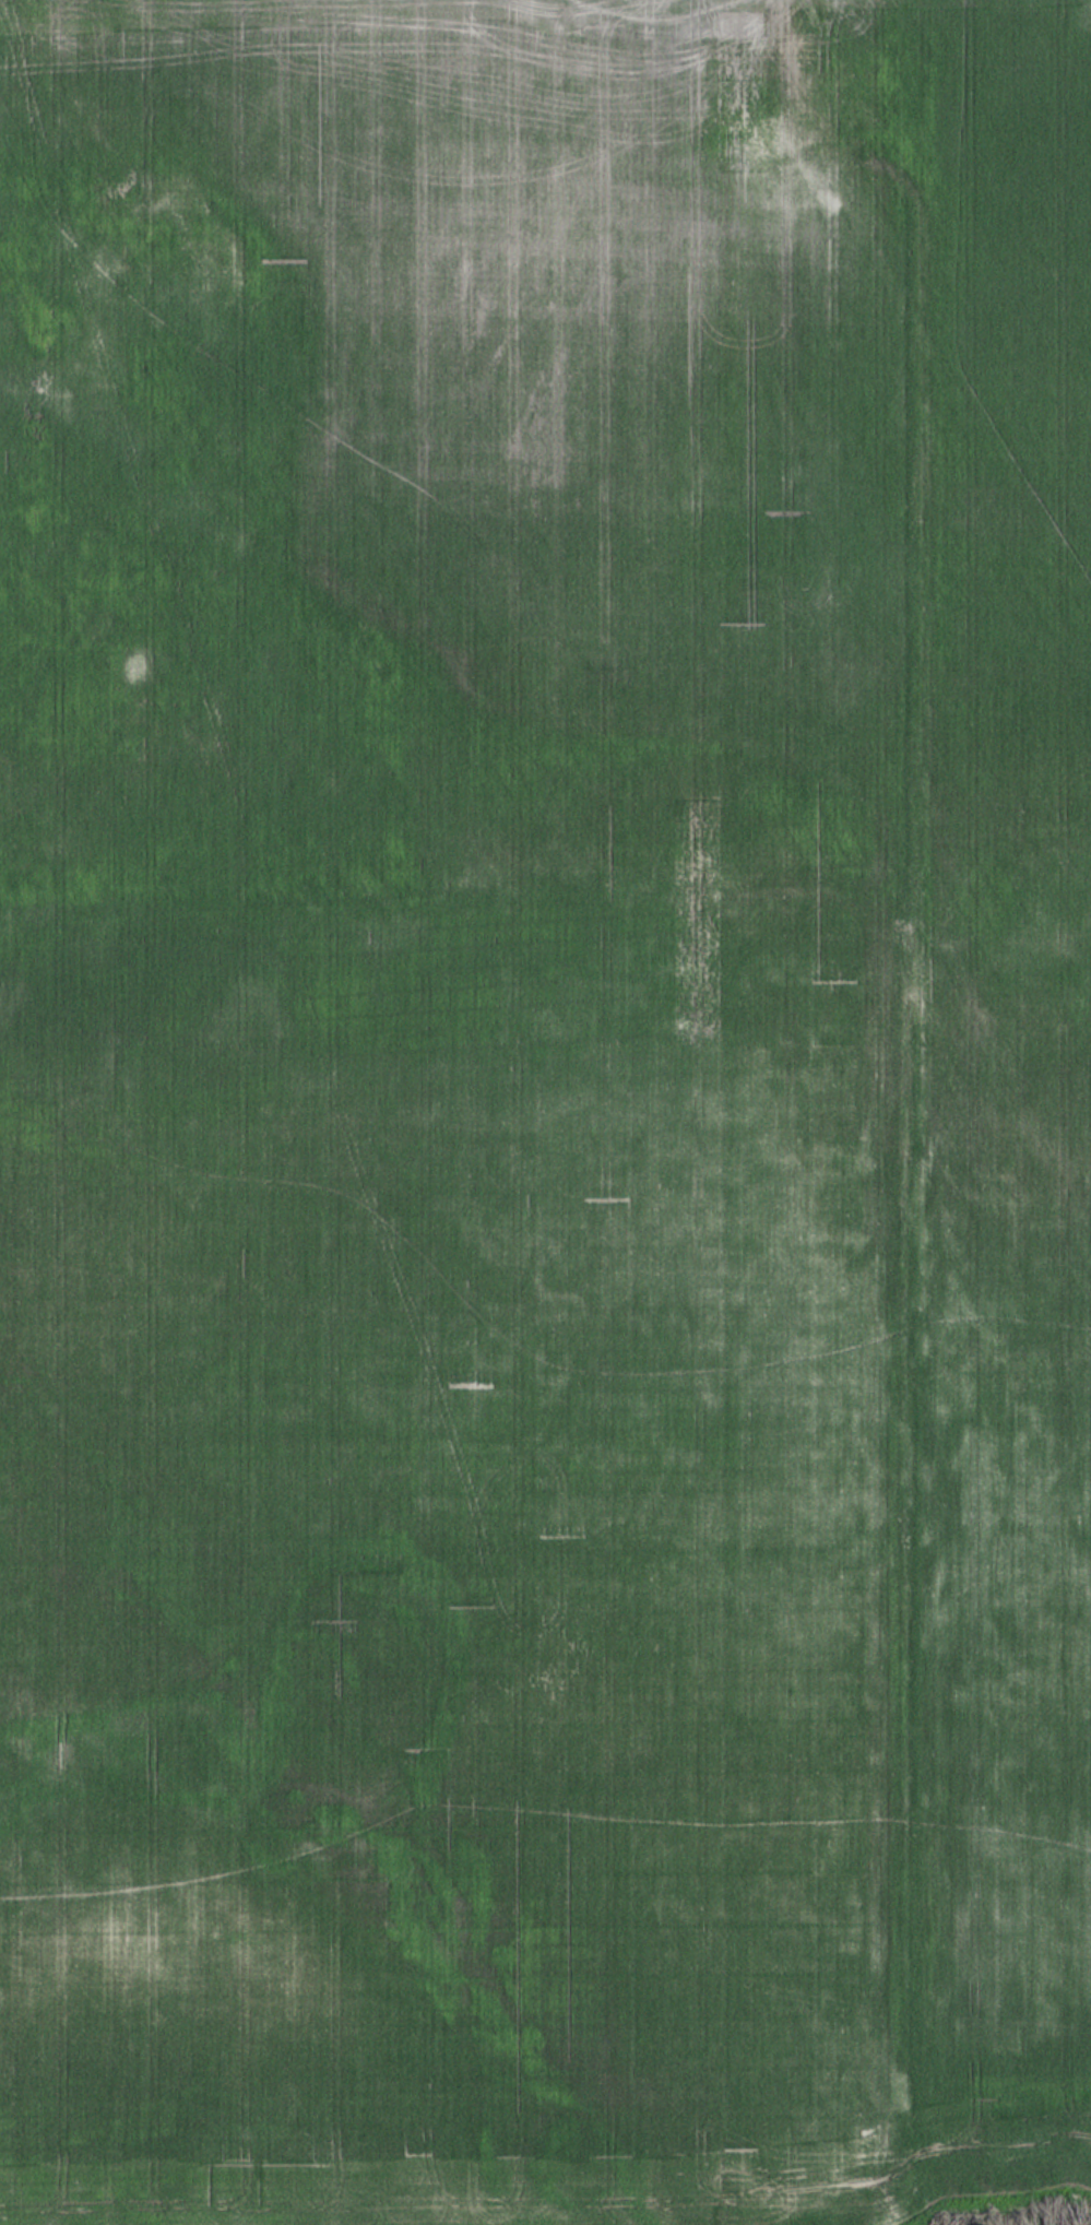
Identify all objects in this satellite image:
road: (792, 67)
building: (858, 91)

